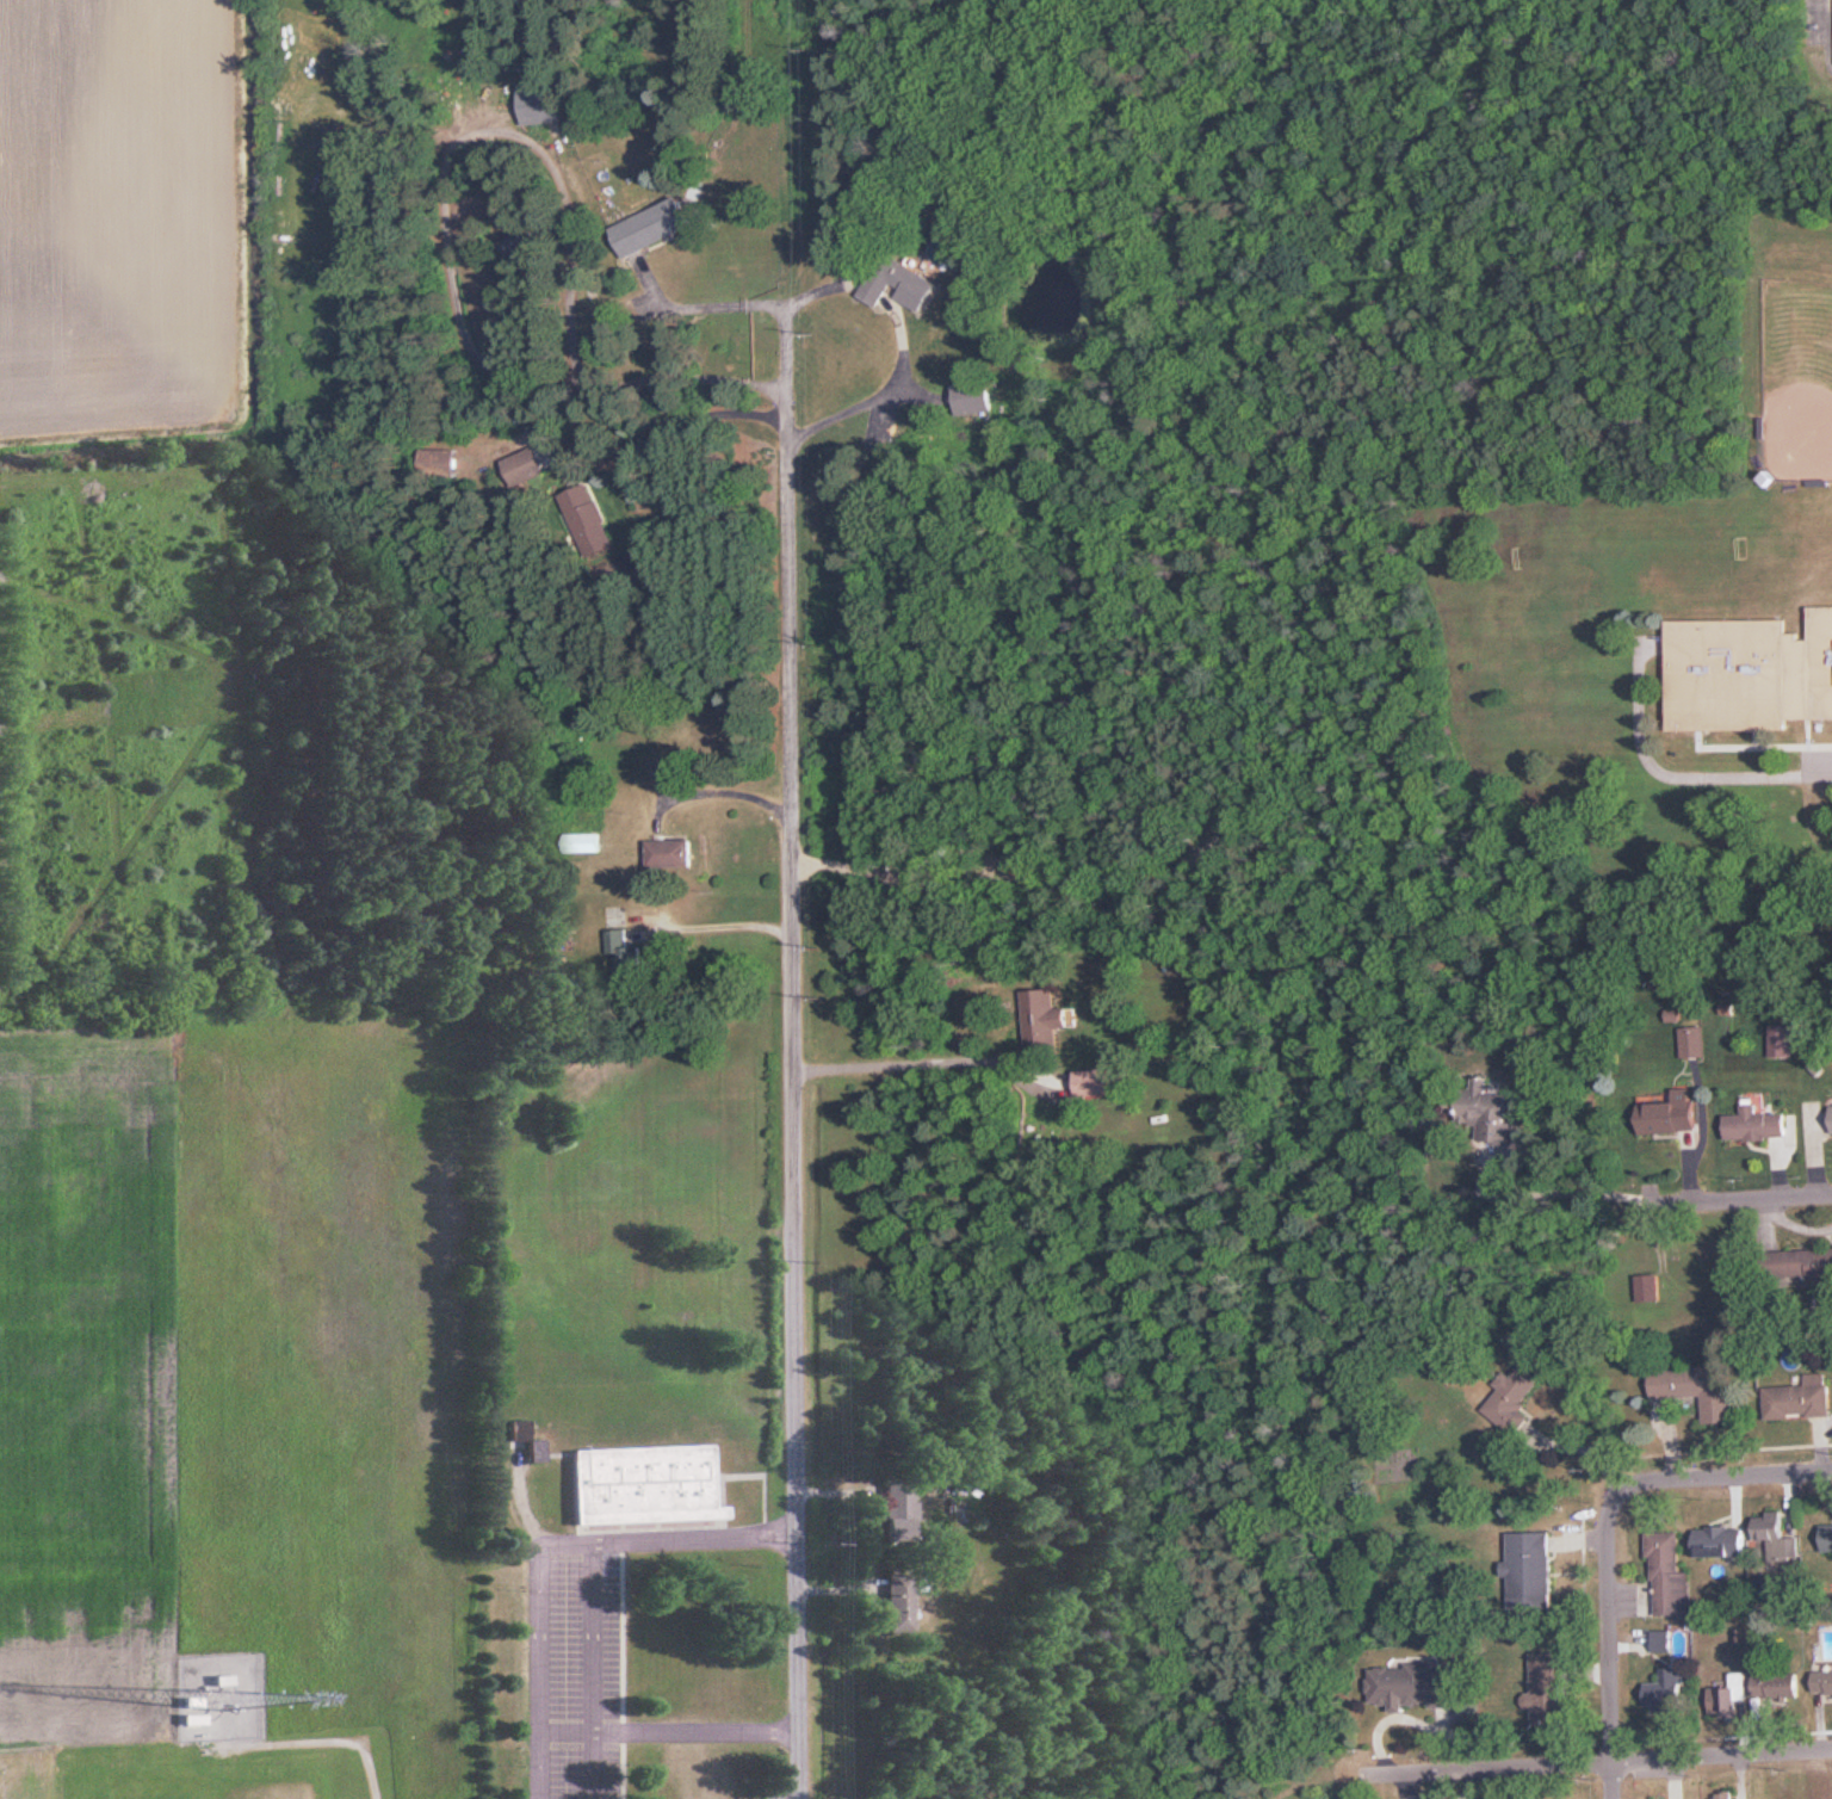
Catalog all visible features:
building: (539, 101)
building: (651, 225)
building: (900, 283)
road: (701, 305)
road: (900, 336)
building: (972, 396)
building: (528, 462)
building: (587, 519)
building: (1749, 673)
building: (661, 761)
road: (712, 790)
building: (582, 841)
building: (670, 852)
road: (723, 922)
building: (625, 953)
building: (1042, 1020)
building: (1785, 1038)
building: (1691, 1040)
road: (794, 1056)
road: (920, 1062)
building: (1094, 1081)
building: (1485, 1107)
building: (1670, 1113)
building: (1756, 1124)
road: (1541, 1191)
road: (1731, 1195)
building: (1797, 1262)
building: (1646, 1287)
building: (1698, 1389)
building: (1511, 1396)
building: (1799, 1398)
road: (1703, 1477)
building: (645, 1483)
building: (899, 1509)
building: (1772, 1535)
building: (1826, 1538)
building: (1719, 1541)
building: (1530, 1570)
building: (1667, 1577)
building: (899, 1601)
building: (1661, 1643)
road: (1609, 1645)
building: (1821, 1682)
building: (1775, 1683)
building: (1410, 1684)
building: (1545, 1686)
building: (1669, 1688)
building: (1737, 1692)
road: (1721, 1755)
road: (1479, 1767)

